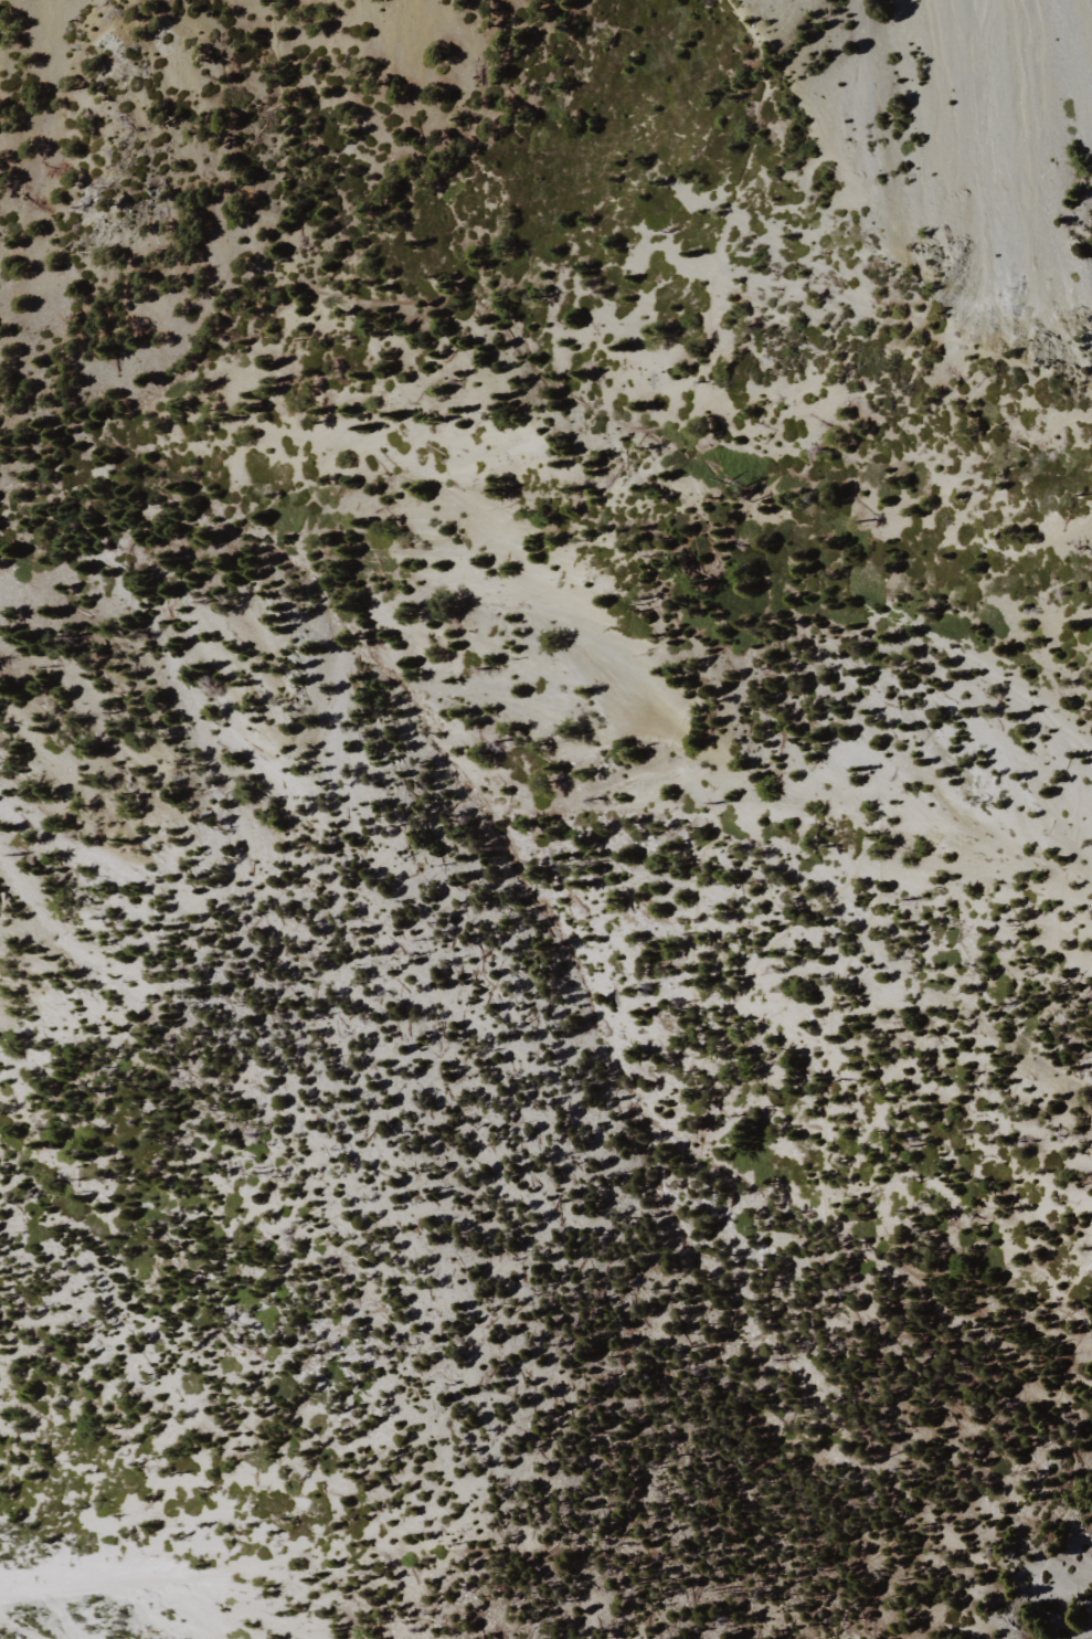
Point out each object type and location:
road: (876, 876)
road: (1077, 1281)

